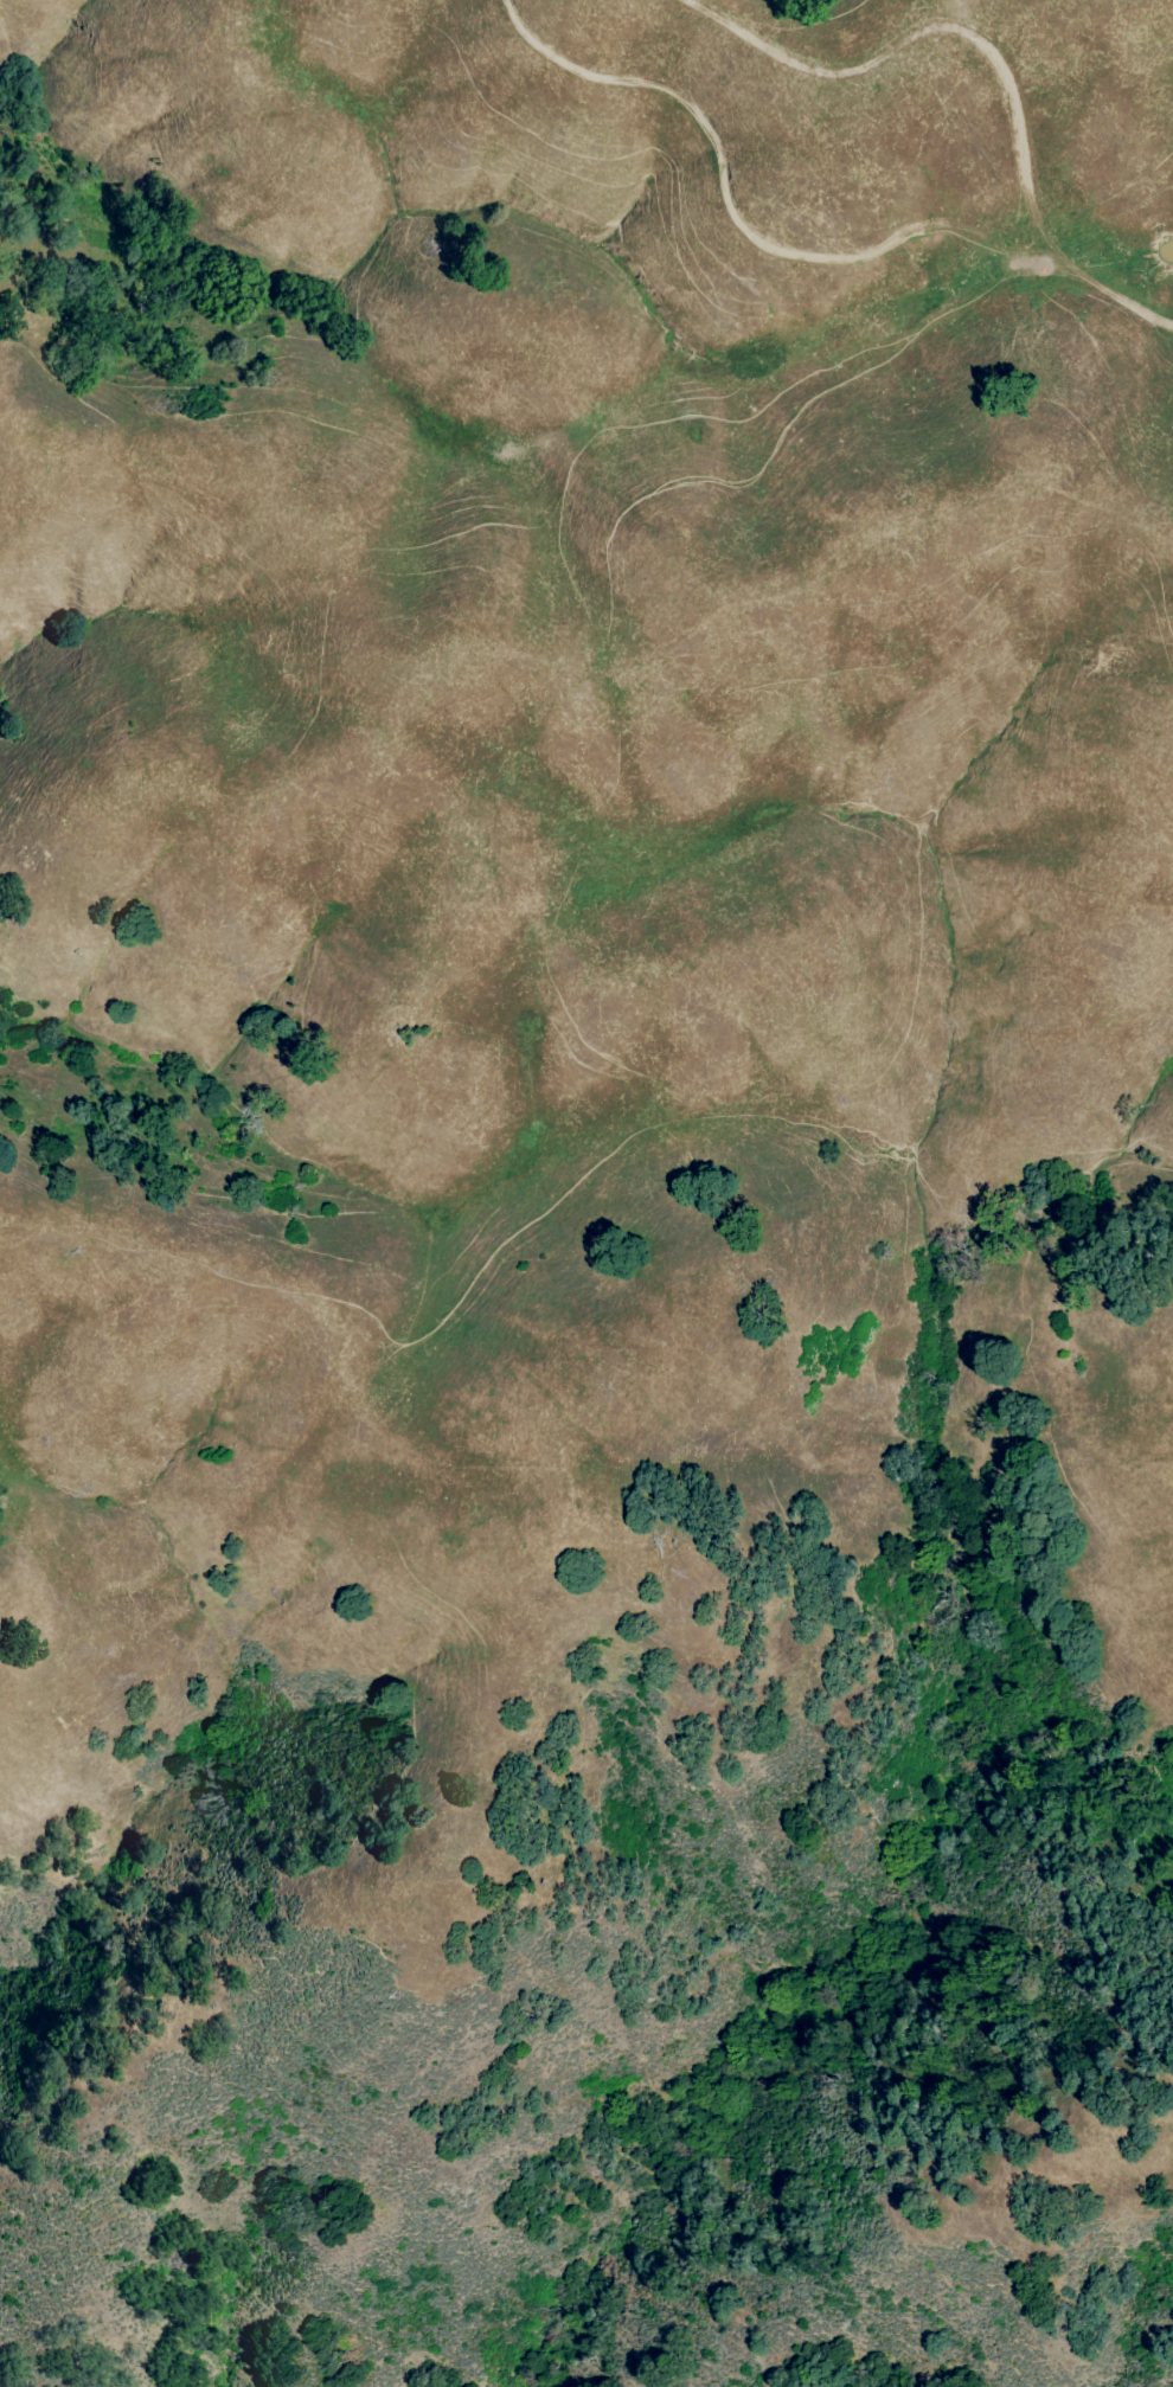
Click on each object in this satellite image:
road: (917, 34)
road: (727, 203)
road: (1096, 285)

